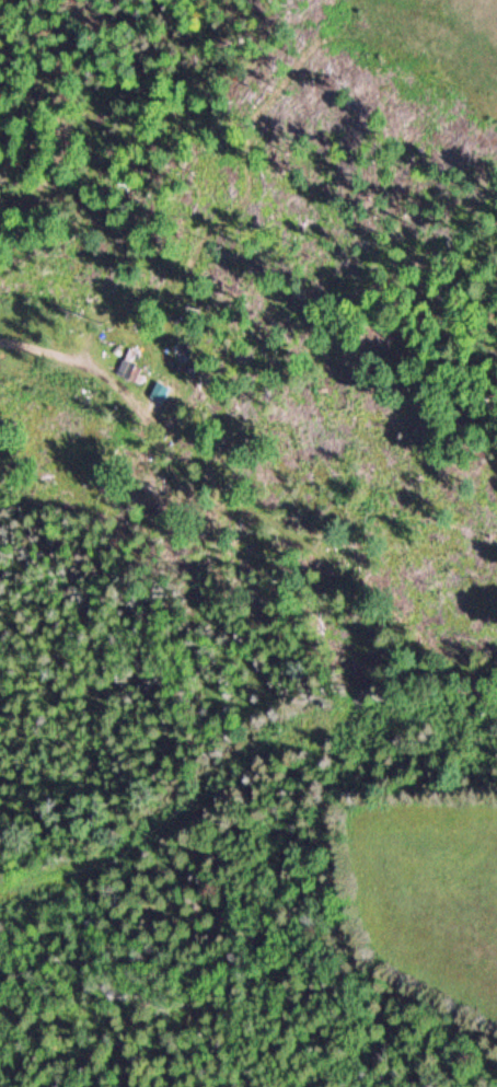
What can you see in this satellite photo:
building: (136, 365)

